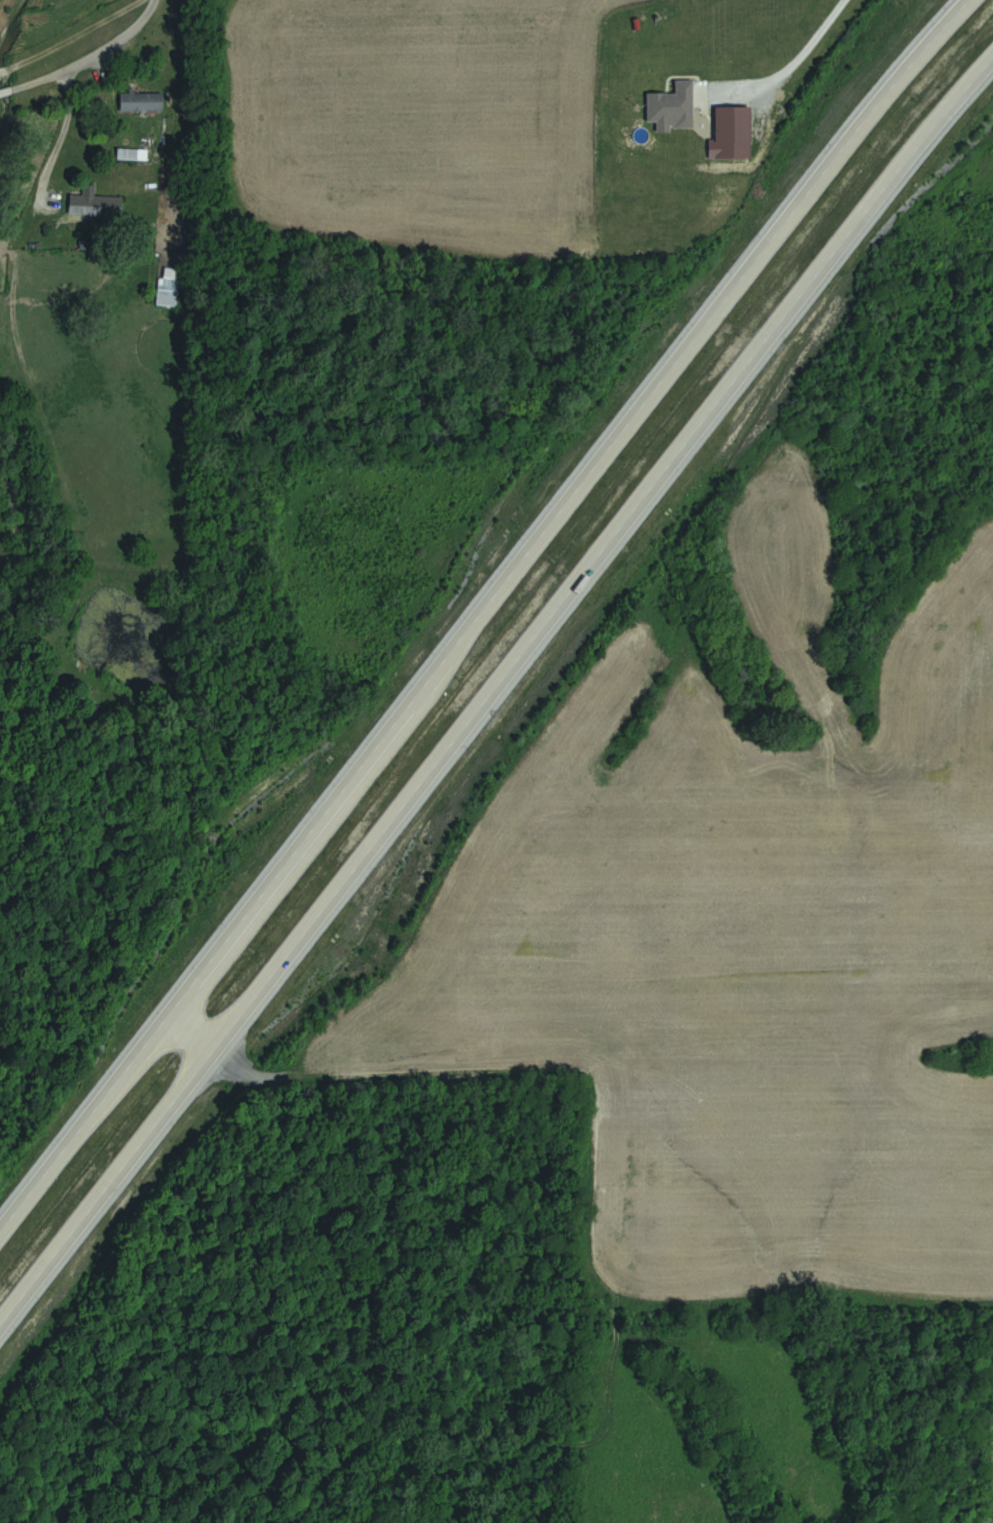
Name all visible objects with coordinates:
road: (801, 46)
road: (83, 54)
building: (142, 101)
building: (97, 205)
building: (169, 280)
road: (21, 354)
road: (475, 599)
road: (492, 678)

